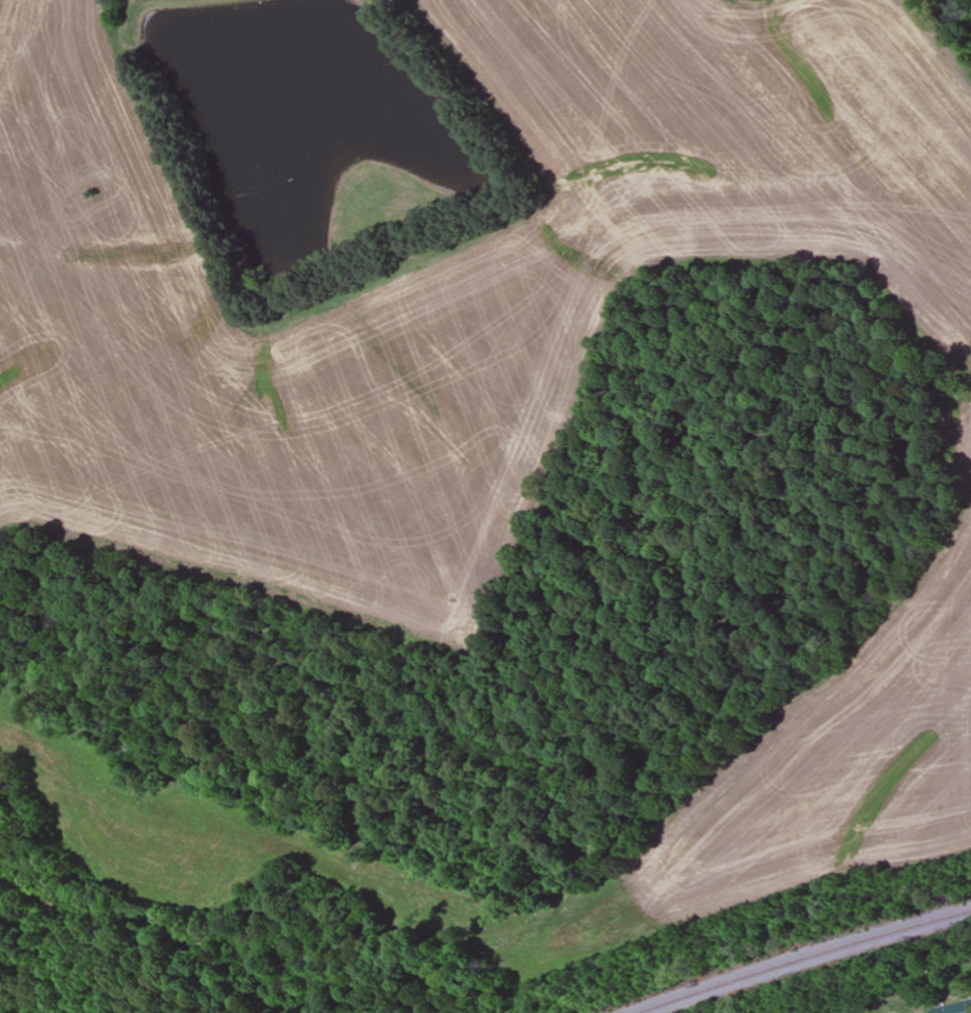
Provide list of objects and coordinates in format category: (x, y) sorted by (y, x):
railway: (804, 957)
building: (954, 1008)

